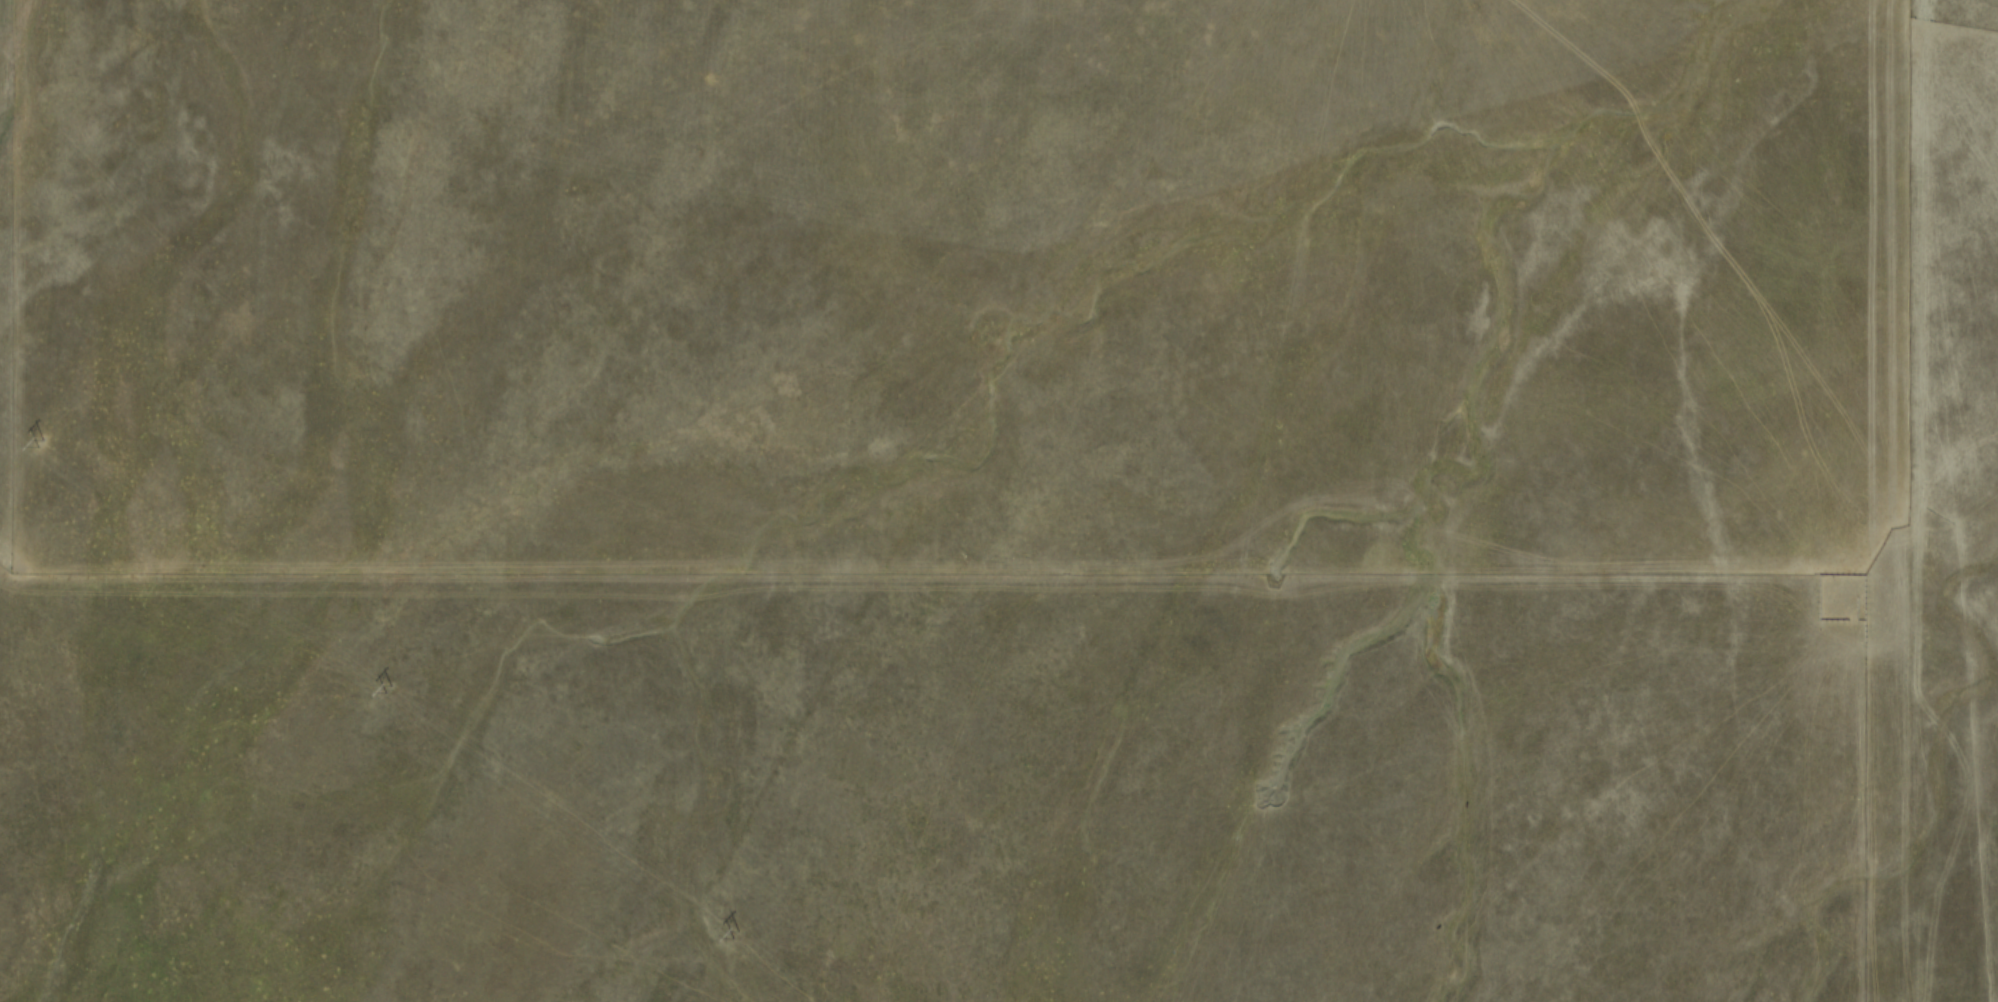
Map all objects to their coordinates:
power tower: (38, 443)
power tower: (386, 688)
power tower: (733, 933)

